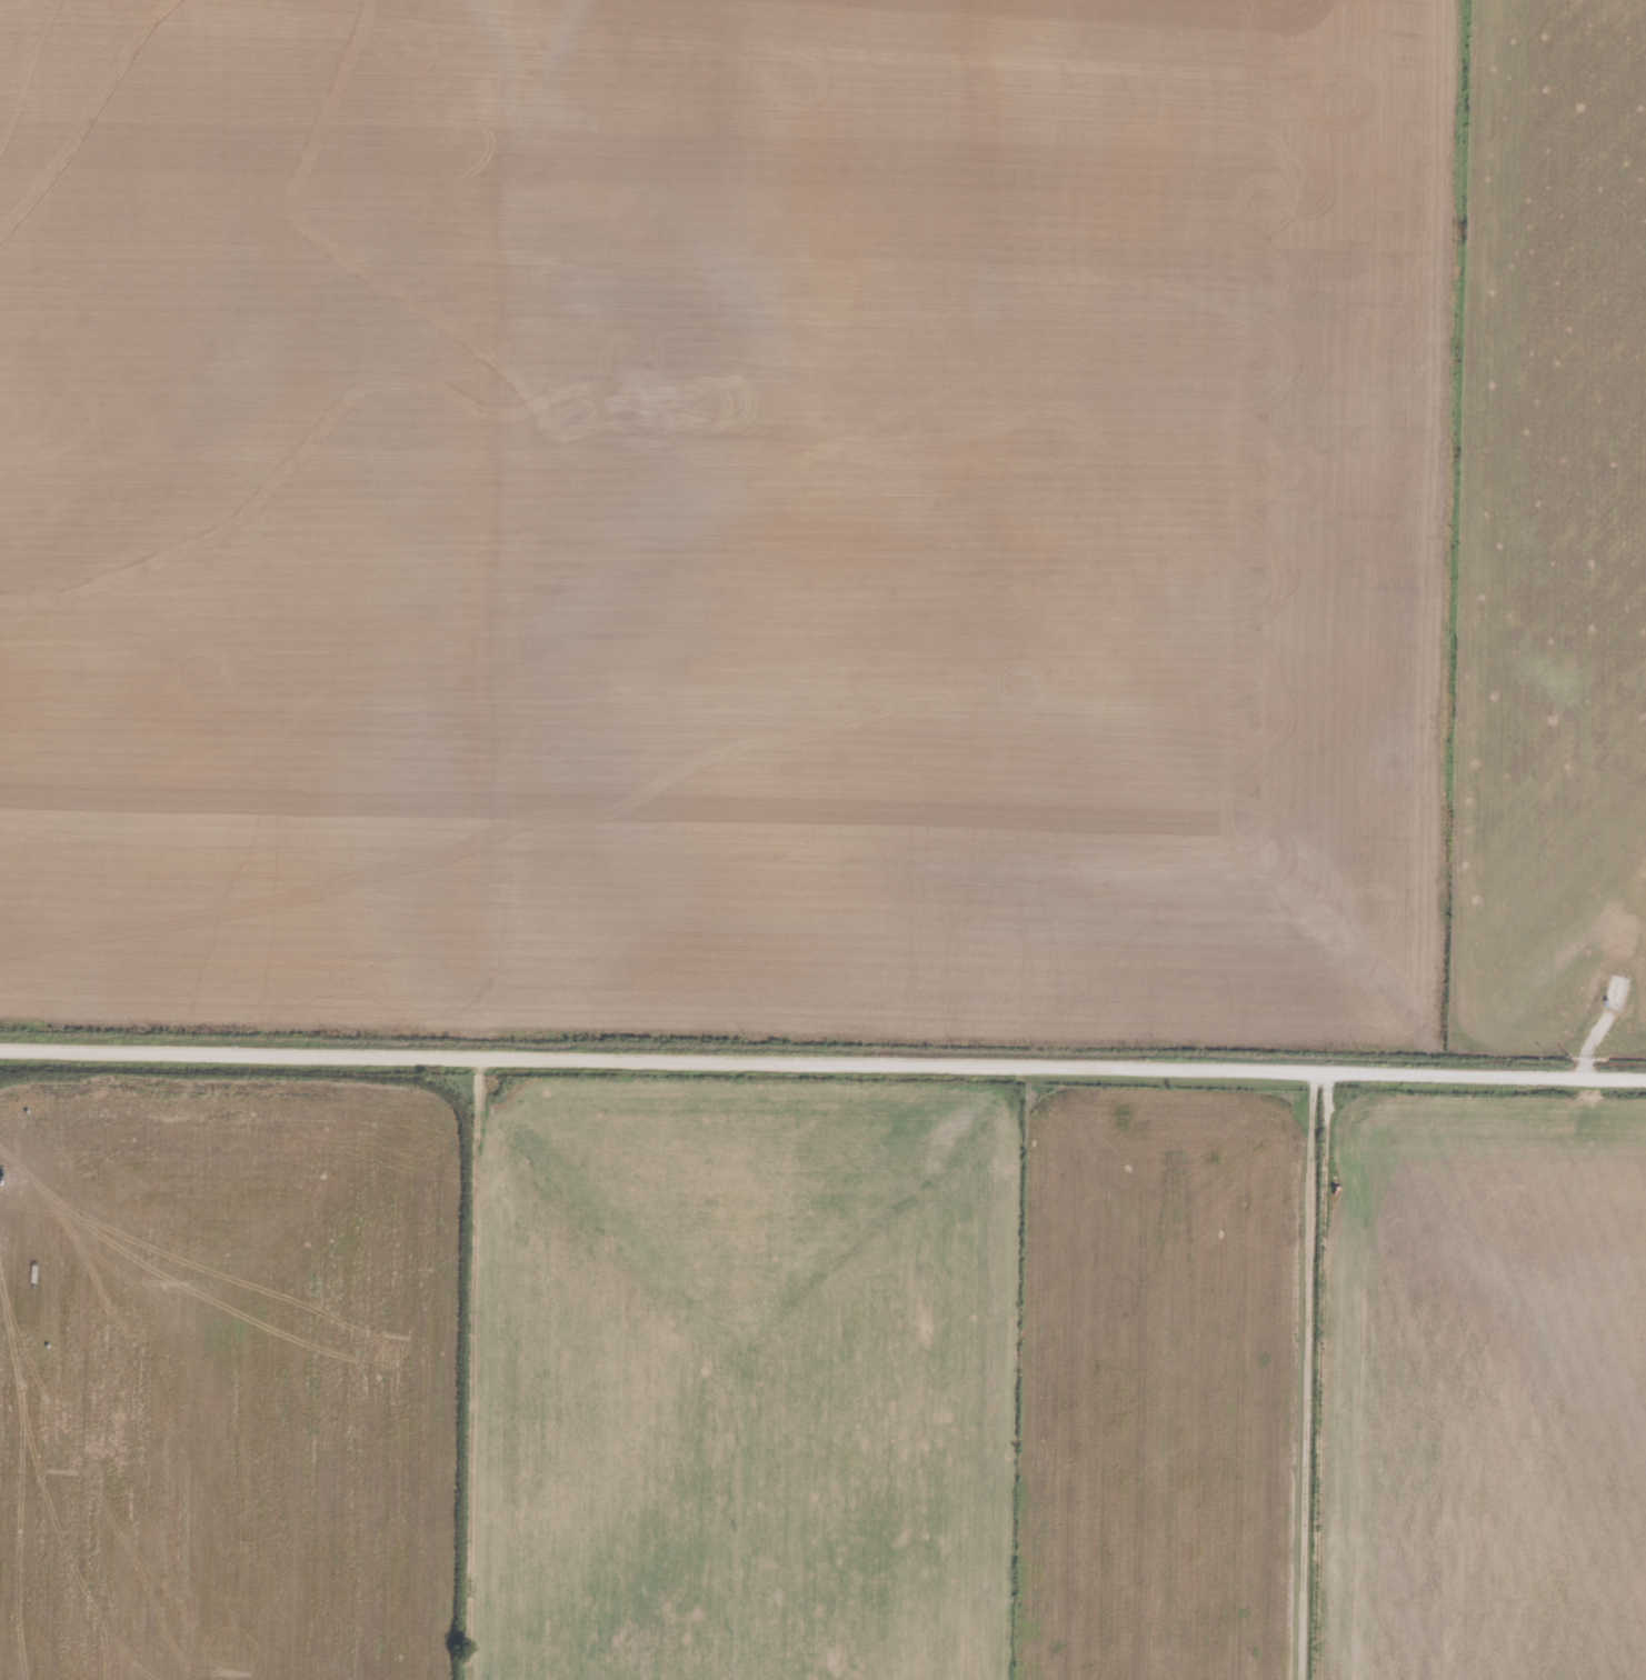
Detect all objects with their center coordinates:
road: (822, 1066)
road: (486, 1369)
road: (1300, 1378)

